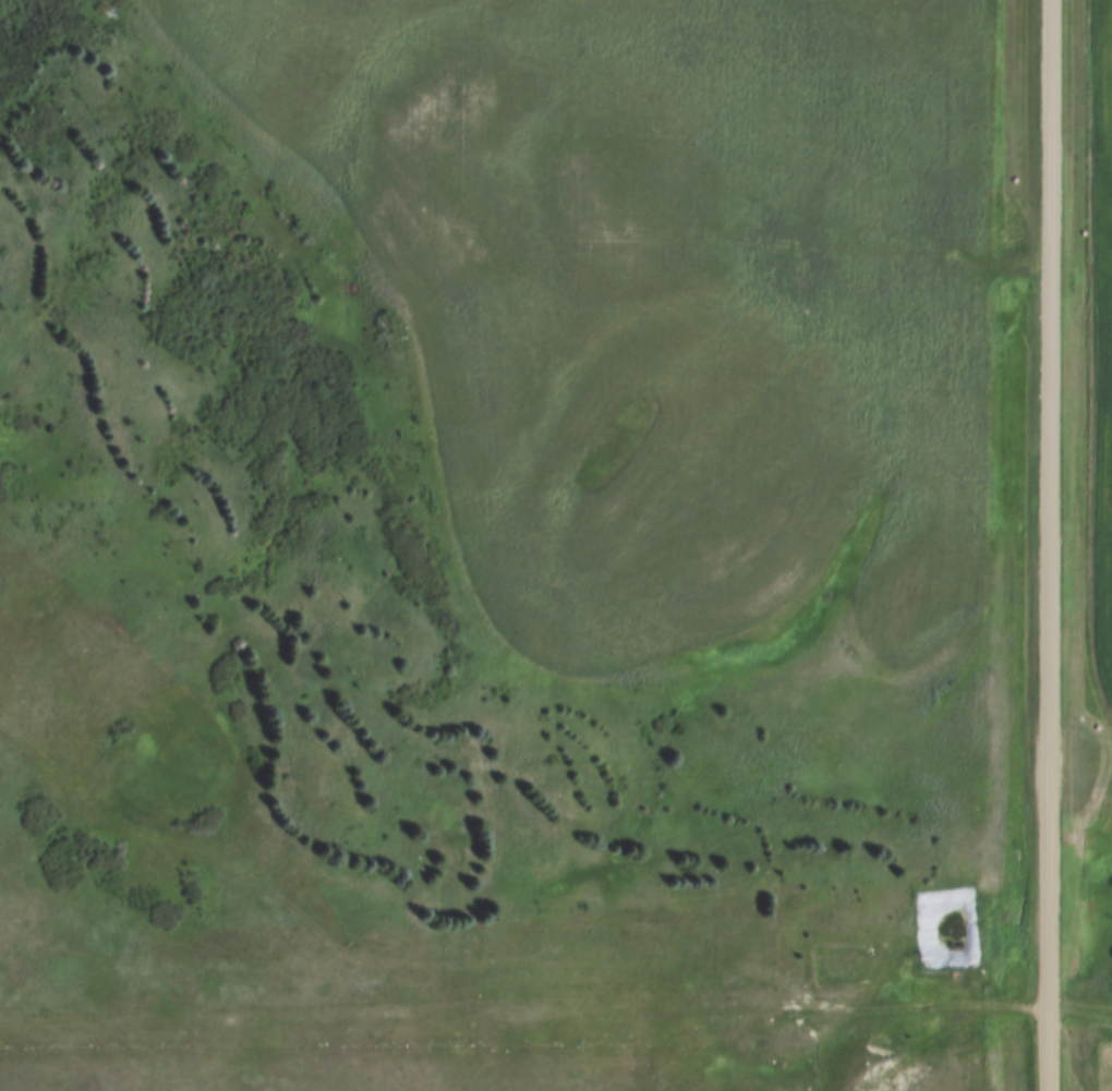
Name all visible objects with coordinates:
road: (1045, 545)
road: (556, 1007)

